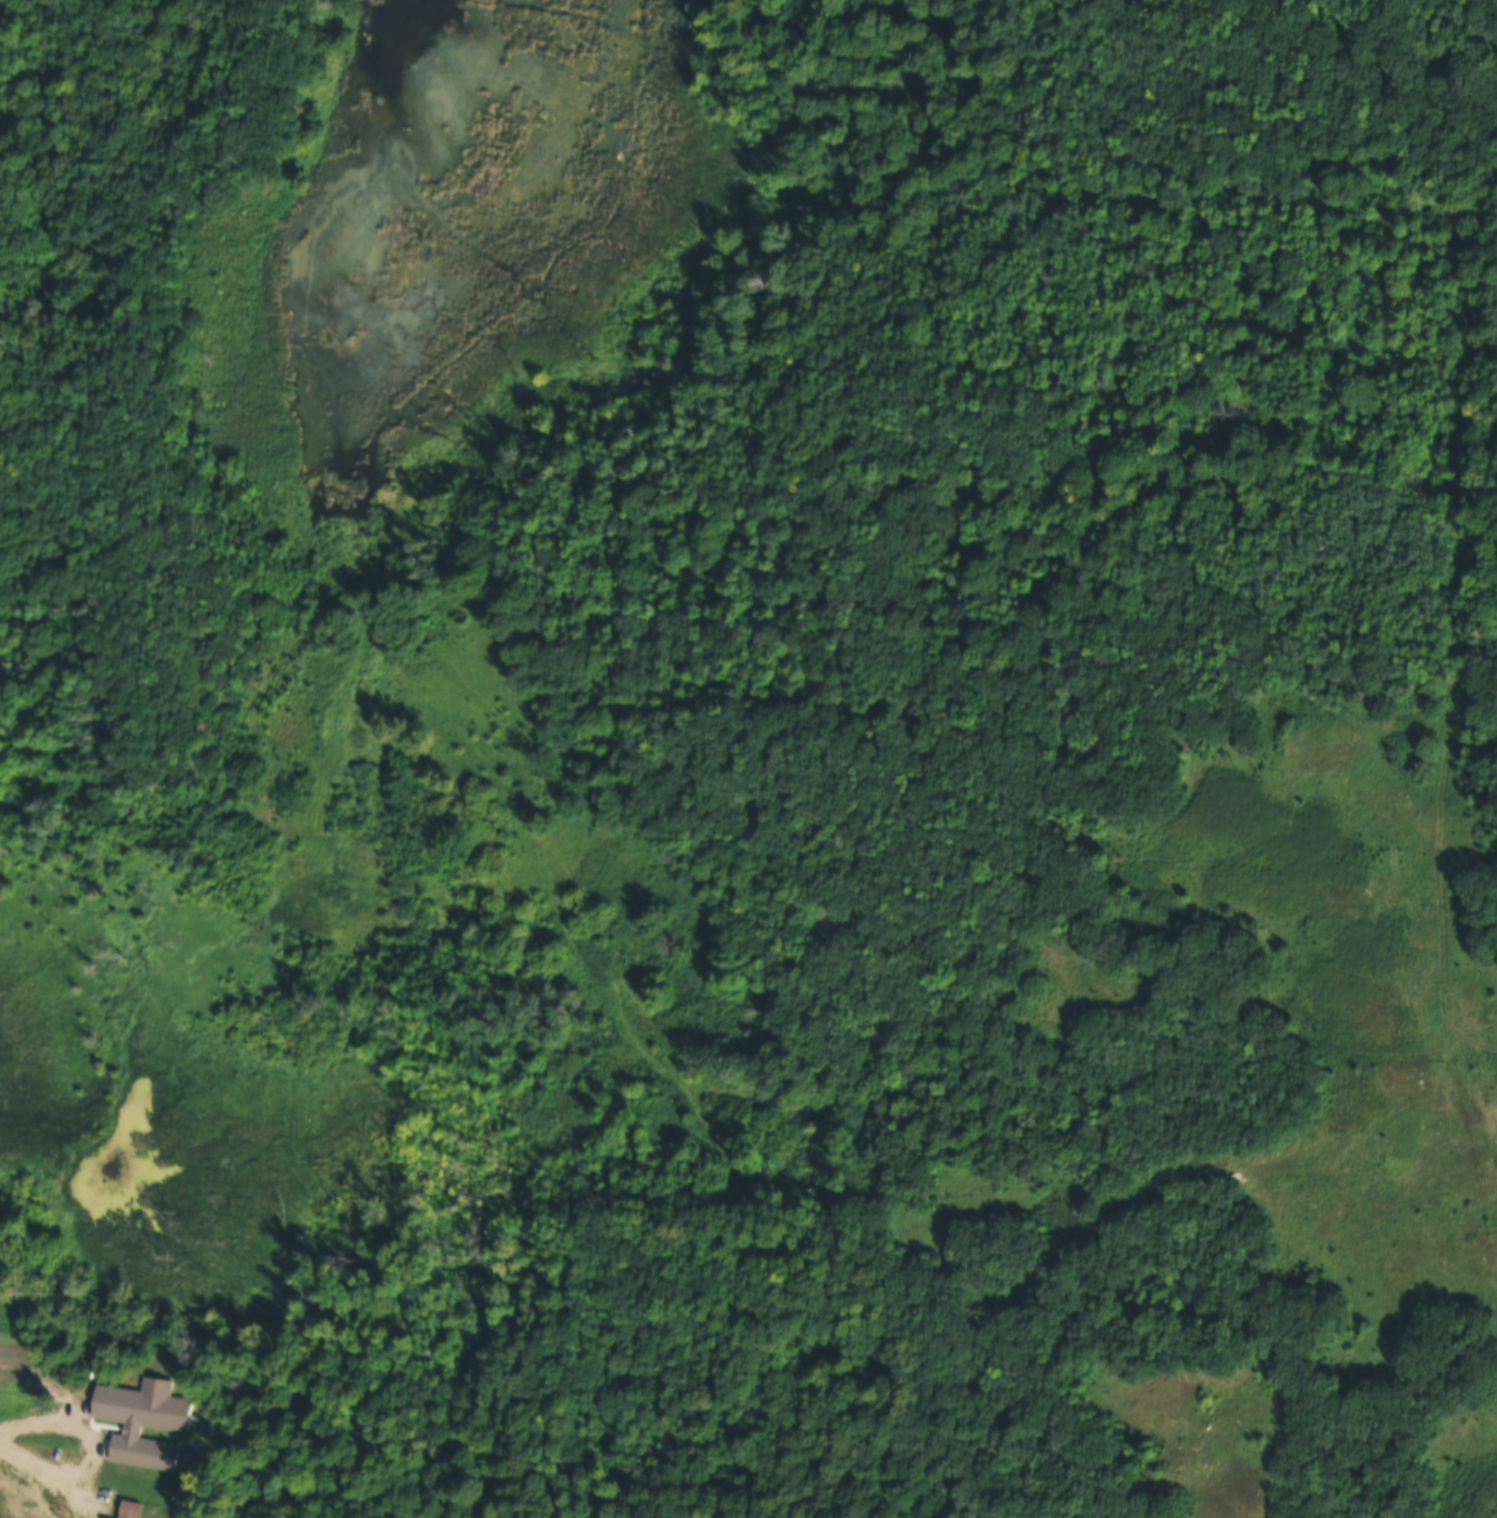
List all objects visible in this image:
building: (149, 1404)
road: (101, 1452)
building: (139, 1507)

